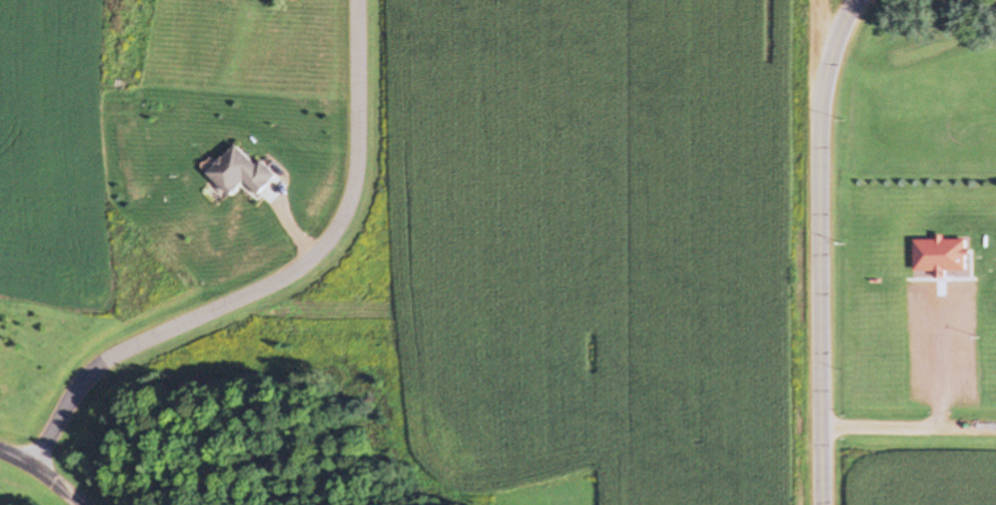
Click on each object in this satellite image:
road: (820, 49)
building: (243, 170)
road: (822, 249)
building: (944, 251)
road: (280, 280)
parking lot: (946, 340)
road: (943, 355)
road: (910, 425)
road: (46, 466)

